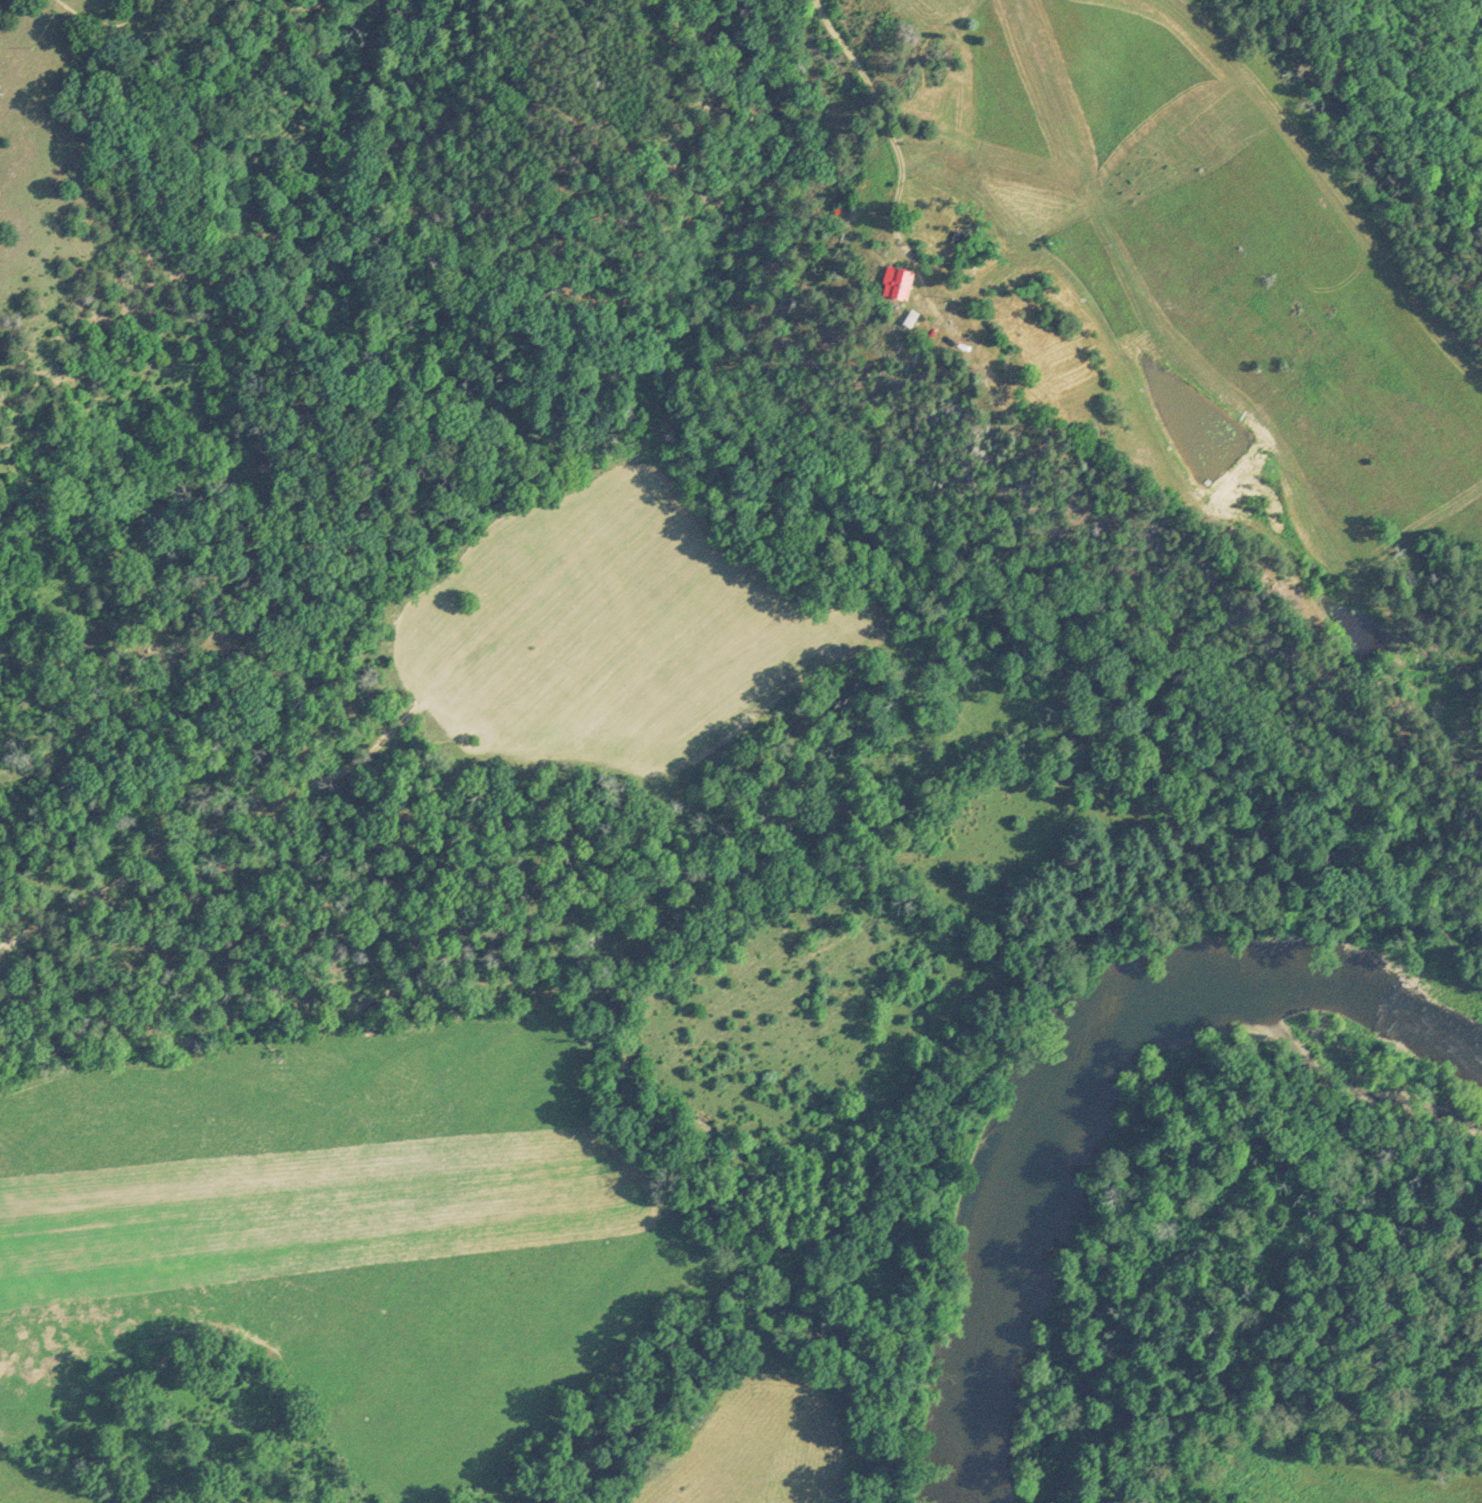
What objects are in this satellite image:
building: (896, 281)
river: (1090, 1075)
crop: (1345, 1482)

